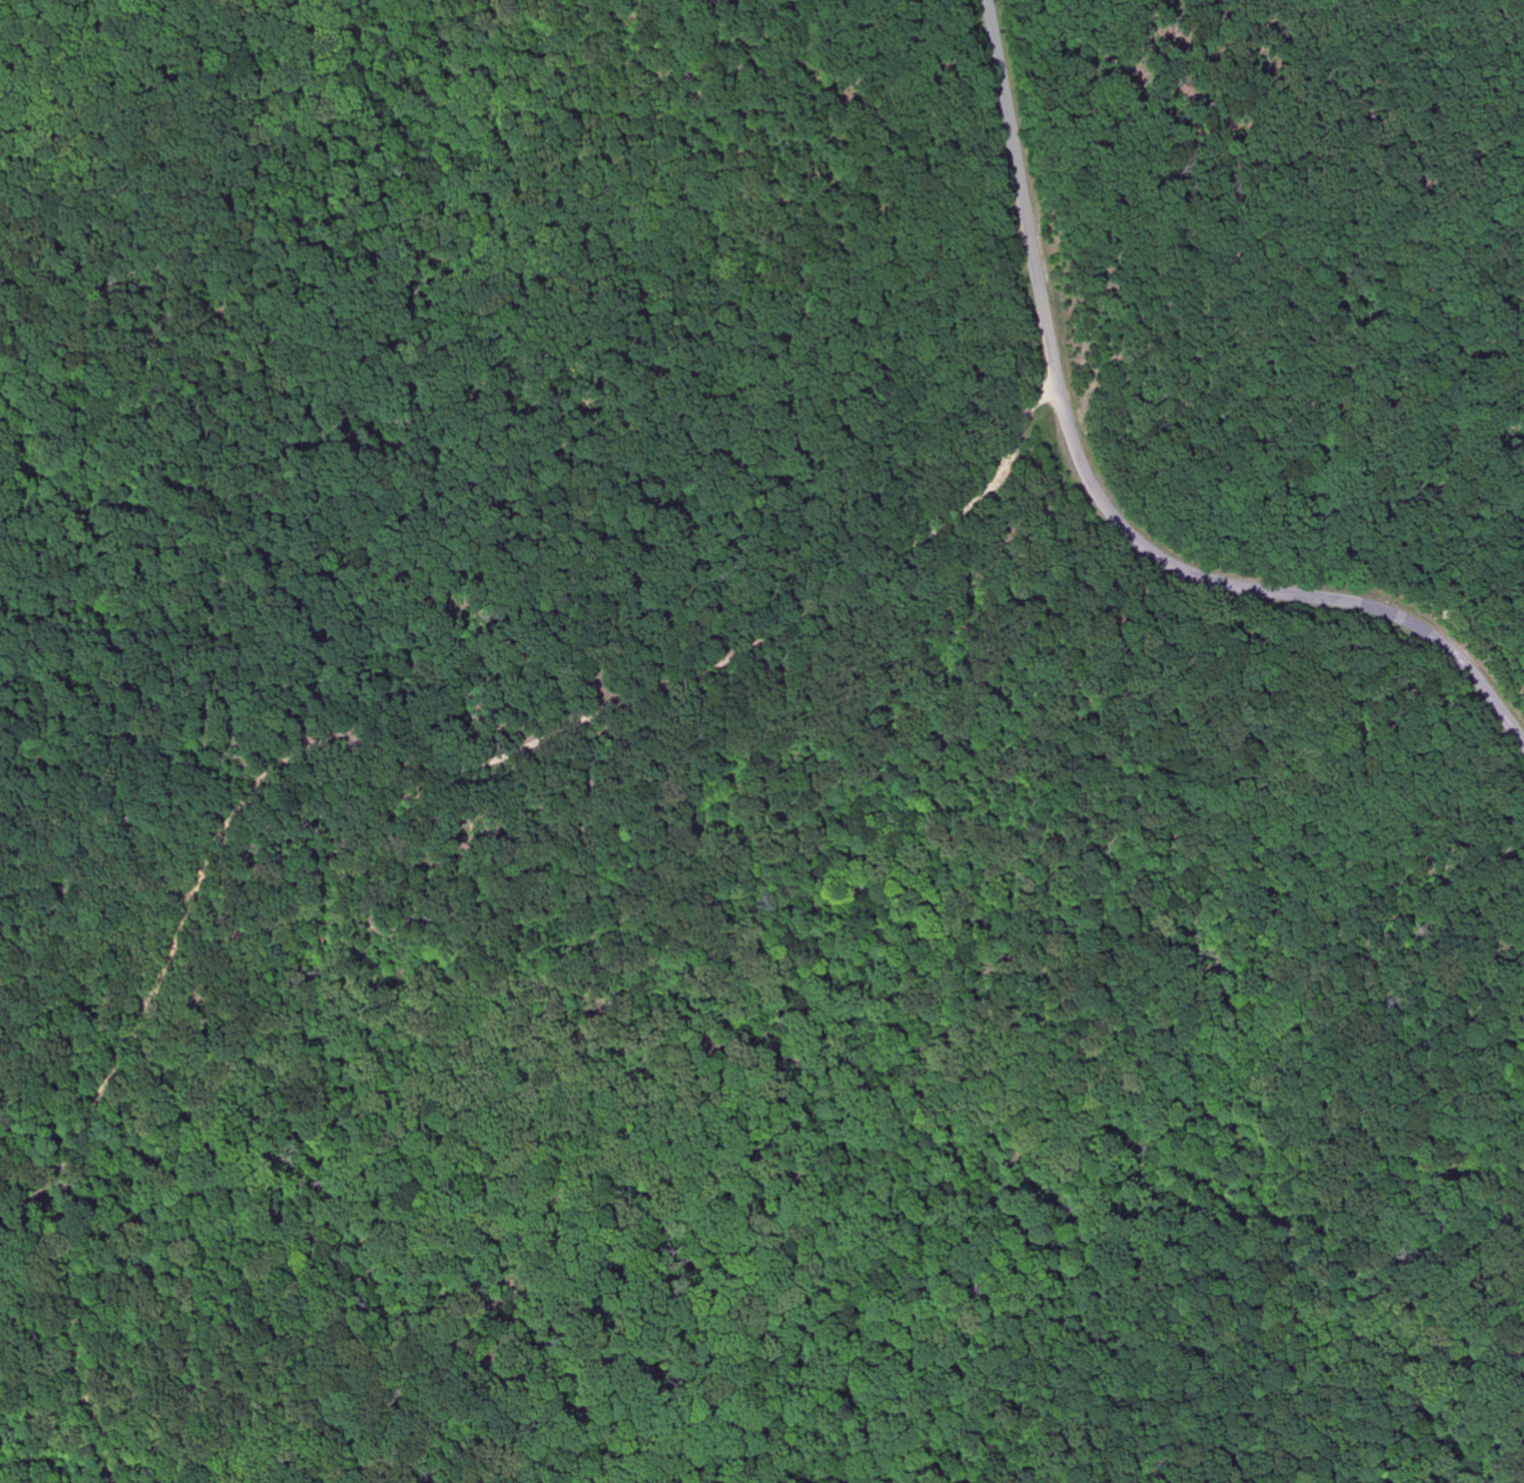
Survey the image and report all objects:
road: (1209, 188)
road: (1101, 497)
road: (342, 742)

